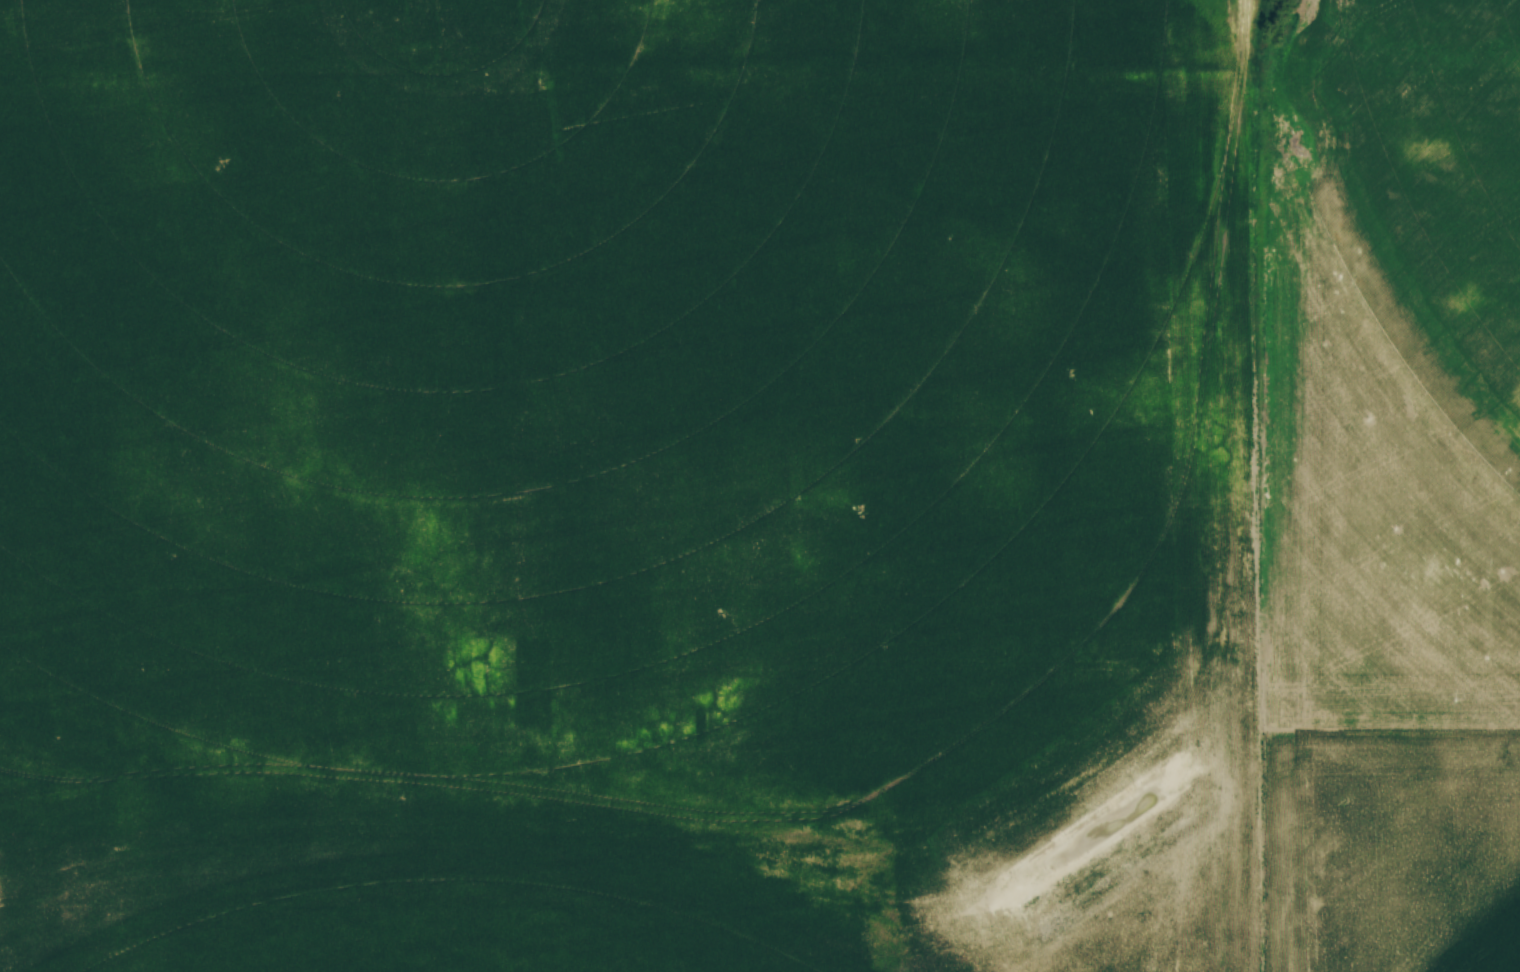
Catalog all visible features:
crop: (760, 486)

